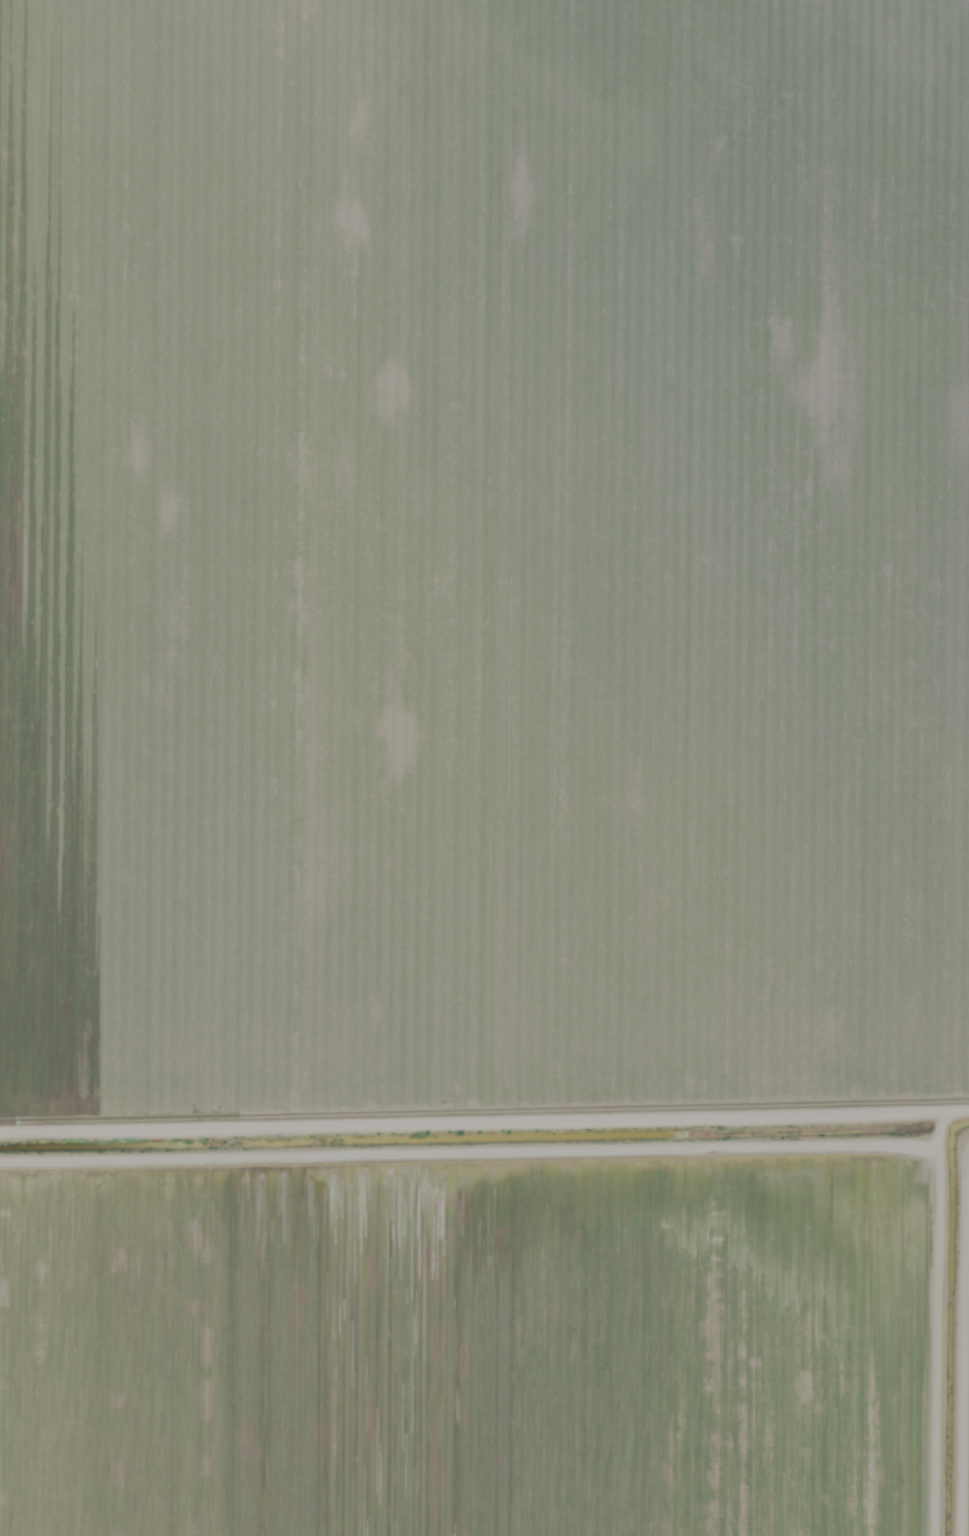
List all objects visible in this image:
crop: (483, 551)
crop: (503, 1195)
crop: (482, 1386)
crop: (968, 1467)

